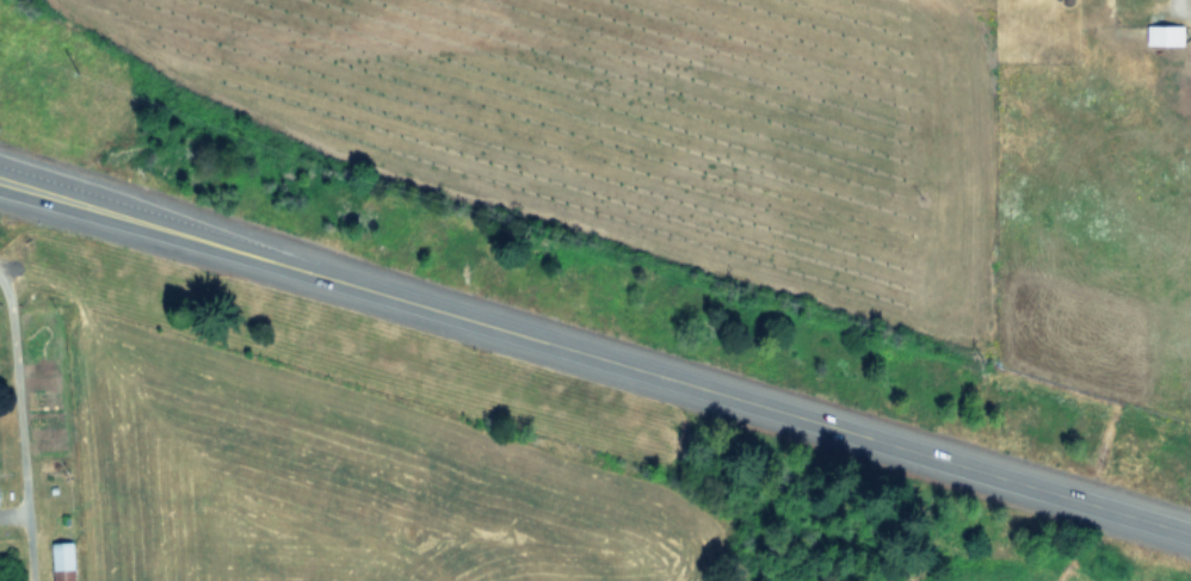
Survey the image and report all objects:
building: (1166, 33)
road: (98, 193)
road: (97, 209)
road: (692, 385)
road: (23, 426)
building: (64, 561)
crop: (1023, 561)

